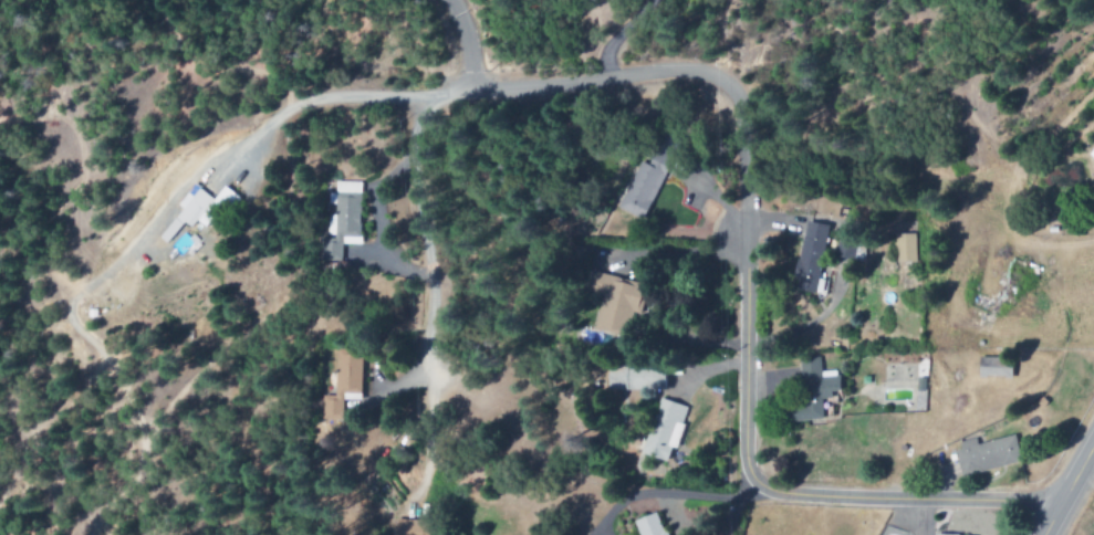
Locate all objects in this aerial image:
road: (458, 38)
building: (643, 185)
road: (736, 201)
building: (198, 210)
building: (906, 248)
building: (810, 256)
building: (615, 302)
building: (993, 367)
building: (635, 376)
building: (343, 382)
building: (811, 391)
building: (665, 430)
building: (986, 454)
road: (1066, 485)
building: (648, 525)
building: (410, 527)

